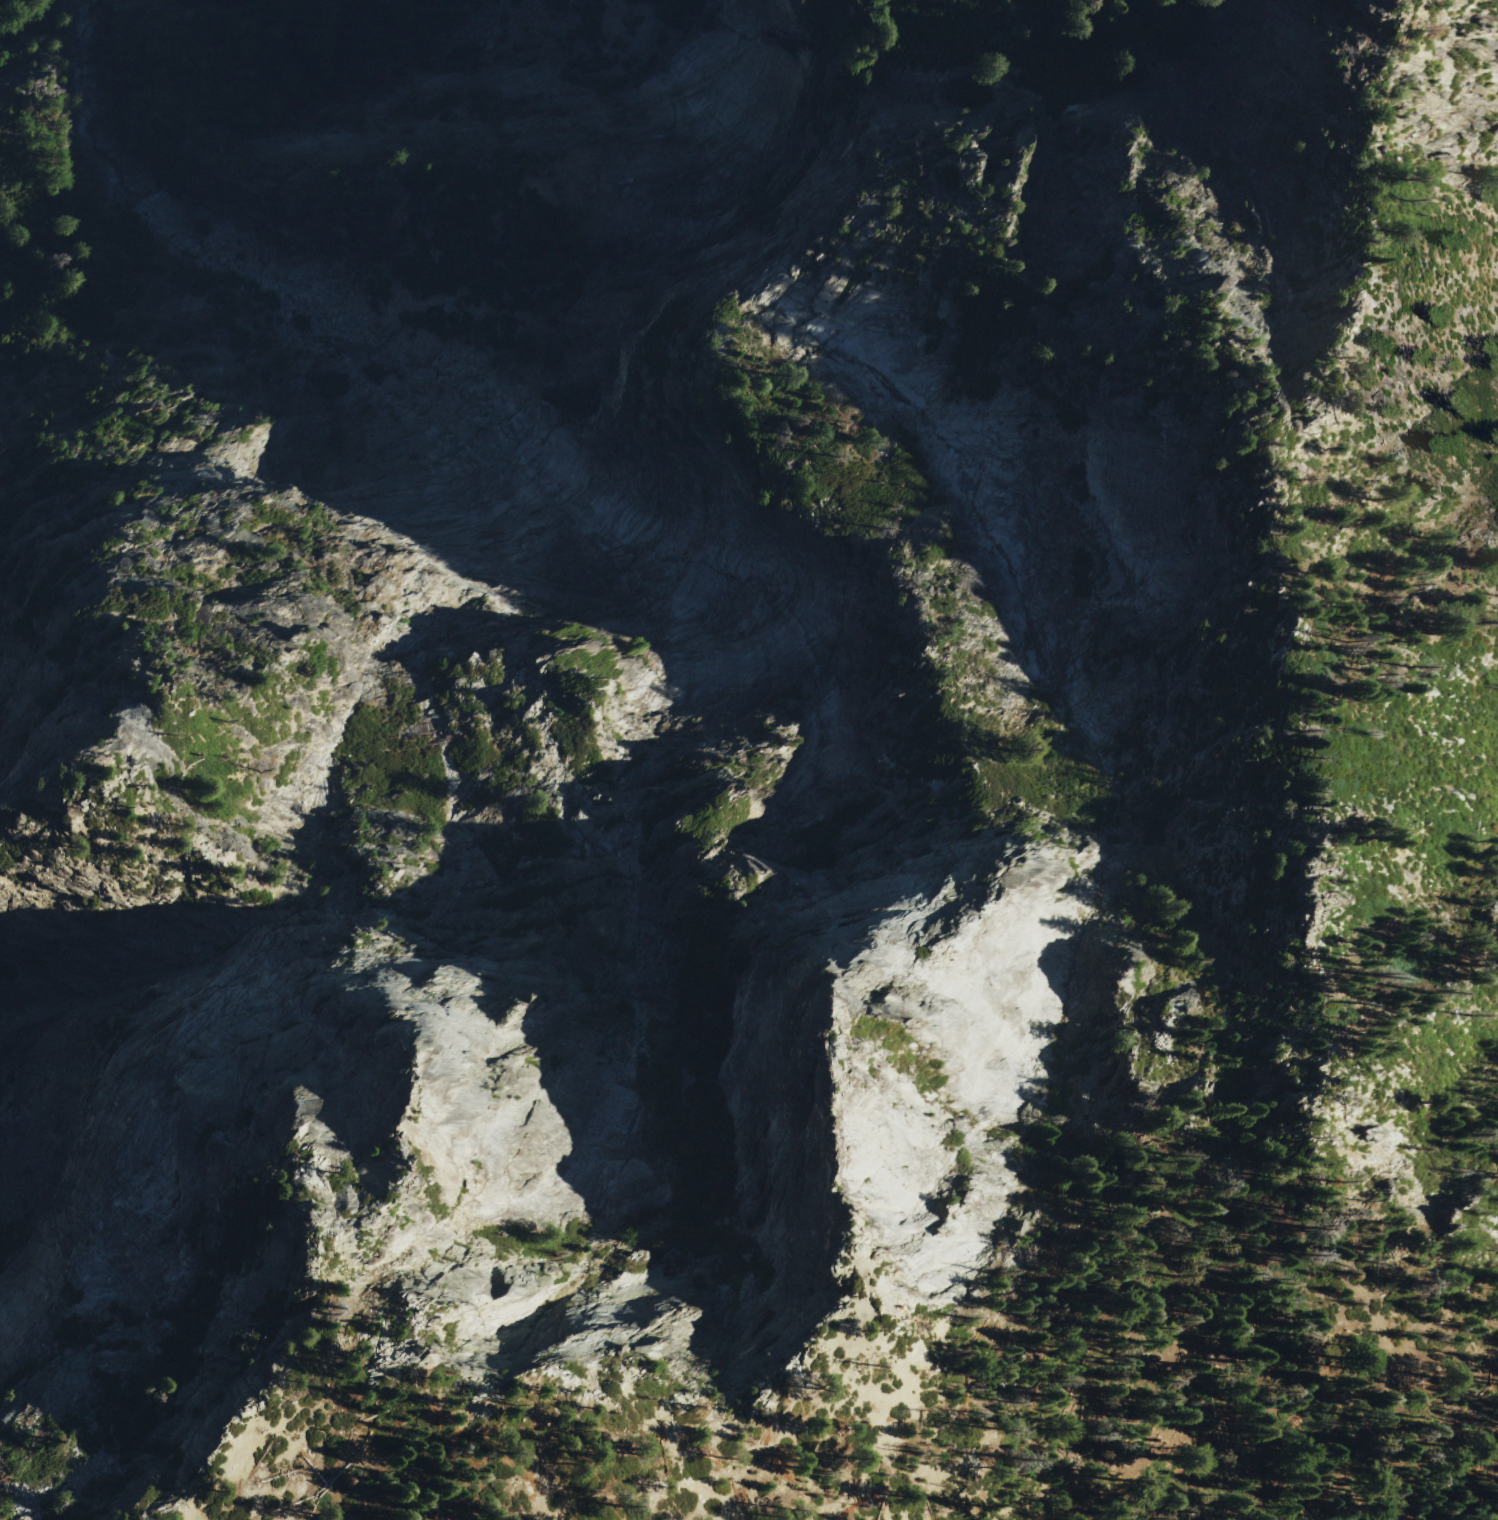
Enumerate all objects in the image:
road: (861, 1336)
road: (765, 1447)
road: (789, 1501)

